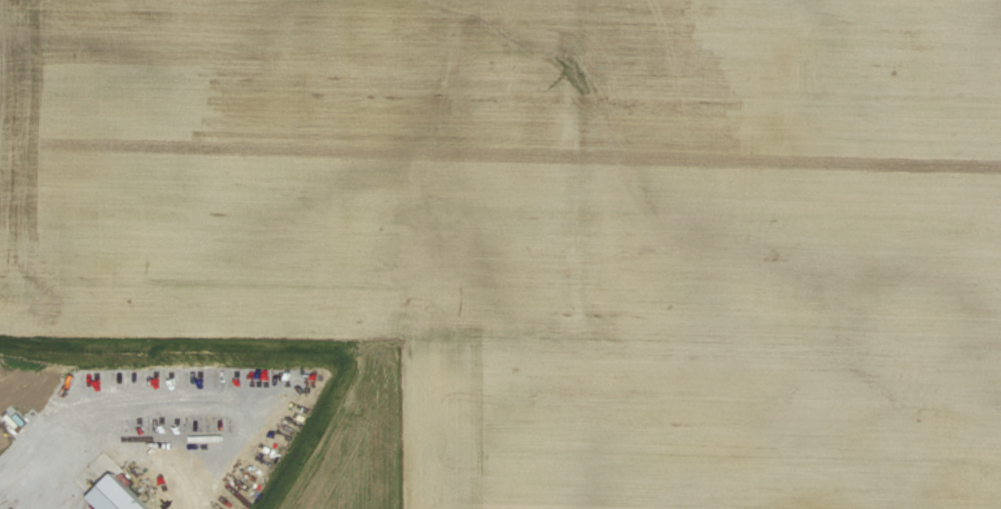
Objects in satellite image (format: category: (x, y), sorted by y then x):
parking lot: (146, 430)
road: (242, 432)
road: (37, 458)
building: (111, 493)

